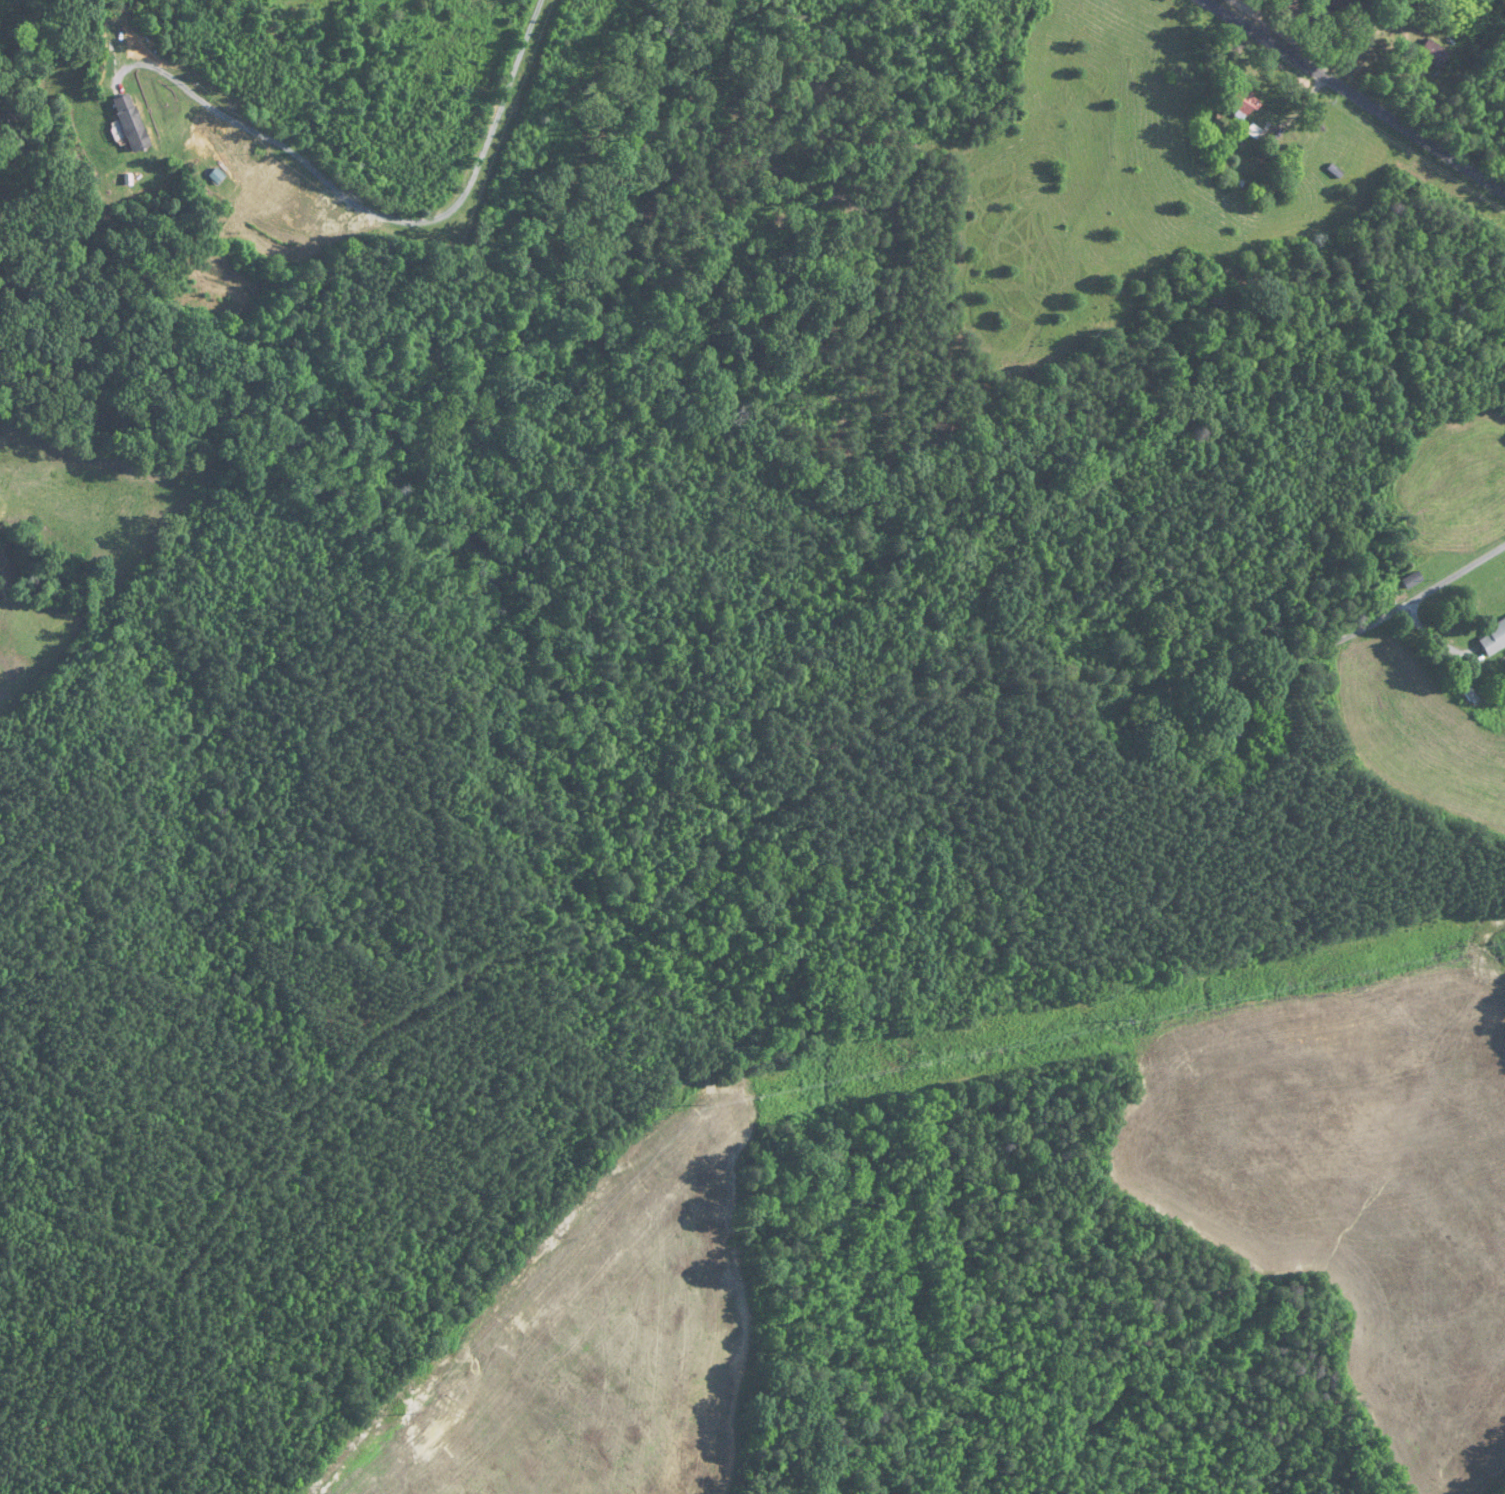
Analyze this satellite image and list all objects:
building: (1332, 4)
building: (1431, 54)
road: (1358, 91)
building: (1240, 103)
building: (133, 124)
road: (376, 213)
building: (1410, 580)
road: (1377, 621)
building: (1492, 639)
building: (1223, 735)

